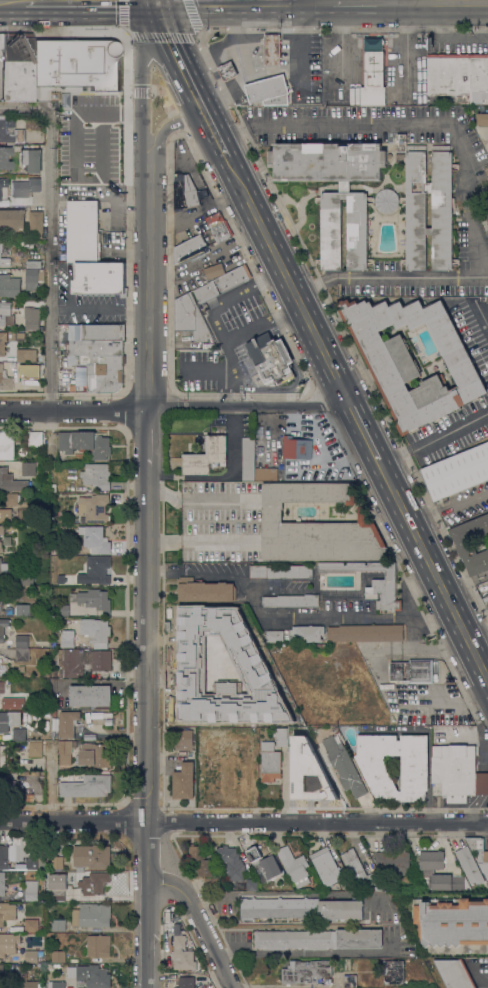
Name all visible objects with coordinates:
road: (40, 0)
road: (92, 0)
road: (153, 0)
road: (277, 0)
road: (396, 0)
road: (12, 1)
road: (89, 1)
traffic signals: (153, 1)
road: (224, 1)
road: (314, 1)
road: (364, 1)
road: (442, 1)
road: (149, 20)
building: (272, 49)
road: (301, 49)
road: (180, 56)
building: (16, 66)
building: (228, 71)
building: (449, 74)
building: (479, 78)
building: (374, 79)
building: (71, 81)
building: (267, 89)
road: (145, 112)
building: (85, 118)
building: (482, 119)
road: (213, 125)
building: (19, 131)
road: (162, 135)
road: (225, 148)
building: (5, 157)
building: (31, 160)
building: (2, 182)
road: (467, 182)
building: (25, 187)
building: (190, 192)
building: (386, 200)
building: (442, 210)
building: (11, 219)
building: (36, 223)
building: (216, 229)
building: (81, 231)
road: (50, 234)
building: (331, 234)
building: (190, 247)
building: (4, 255)
building: (32, 264)
building: (214, 270)
building: (233, 277)
building: (33, 278)
building: (99, 278)
building: (9, 286)
building: (206, 292)
road: (231, 297)
road: (147, 298)
road: (86, 311)
building: (6, 313)
road: (482, 314)
building: (32, 315)
building: (190, 318)
building: (100, 331)
road: (234, 336)
building: (3, 343)
building: (95, 346)
building: (26, 355)
building: (41, 357)
building: (271, 359)
building: (412, 360)
building: (30, 371)
building: (103, 371)
road: (206, 371)
building: (5, 380)
road: (249, 407)
road: (74, 412)
road: (357, 419)
building: (35, 439)
road: (149, 439)
road: (435, 440)
building: (85, 443)
building: (7, 445)
building: (296, 448)
building: (206, 456)
building: (248, 458)
building: (28, 468)
building: (456, 472)
building: (264, 473)
building: (97, 475)
building: (11, 481)
building: (54, 487)
road: (200, 494)
building: (12, 498)
road: (448, 504)
building: (94, 507)
building: (3, 514)
building: (316, 526)
building: (2, 529)
building: (96, 538)
road: (203, 541)
building: (471, 543)
building: (1, 547)
building: (20, 549)
building: (4, 568)
building: (95, 571)
building: (281, 571)
road: (228, 575)
building: (26, 578)
building: (61, 579)
road: (419, 582)
building: (383, 583)
road: (466, 584)
building: (205, 590)
building: (1, 597)
building: (96, 600)
building: (291, 600)
road: (254, 602)
road: (409, 607)
building: (22, 610)
building: (62, 610)
road: (433, 618)
road: (337, 619)
building: (3, 628)
road: (476, 628)
building: (96, 631)
building: (365, 632)
building: (306, 633)
building: (215, 635)
building: (275, 636)
building: (67, 640)
building: (22, 641)
building: (53, 644)
building: (22, 654)
building: (82, 661)
building: (412, 670)
building: (53, 673)
building: (2, 687)
building: (95, 697)
building: (13, 703)
road: (279, 706)
building: (9, 720)
building: (69, 723)
road: (149, 727)
building: (19, 734)
building: (296, 734)
building: (183, 740)
building: (36, 749)
building: (66, 753)
building: (94, 755)
building: (273, 756)
building: (2, 757)
building: (344, 765)
building: (211, 766)
building: (241, 768)
building: (459, 773)
building: (303, 776)
building: (378, 777)
building: (184, 781)
building: (9, 786)
building: (87, 786)
building: (29, 797)
road: (243, 823)
building: (477, 847)
building: (25, 854)
building: (4, 857)
building: (91, 857)
building: (201, 861)
building: (231, 862)
building: (394, 862)
building: (57, 863)
building: (469, 865)
building: (264, 866)
building: (294, 866)
building: (326, 866)
building: (428, 871)
building: (361, 872)
building: (94, 883)
building: (411, 883)
building: (2, 884)
building: (211, 884)
building: (251, 884)
building: (31, 891)
building: (58, 894)
building: (302, 908)
road: (391, 911)
building: (7, 912)
building: (91, 915)
road: (199, 921)
building: (58, 925)
building: (452, 925)
building: (32, 926)
building: (177, 929)
building: (318, 939)
building: (8, 943)
building: (98, 945)
building: (183, 954)
building: (31, 956)
building: (58, 956)
building: (49, 966)
building: (306, 971)
building: (393, 971)
building: (454, 973)
building: (1, 975)
road: (478, 976)
building: (92, 977)
building: (350, 981)
building: (186, 982)
building: (34, 984)
building: (58, 984)

